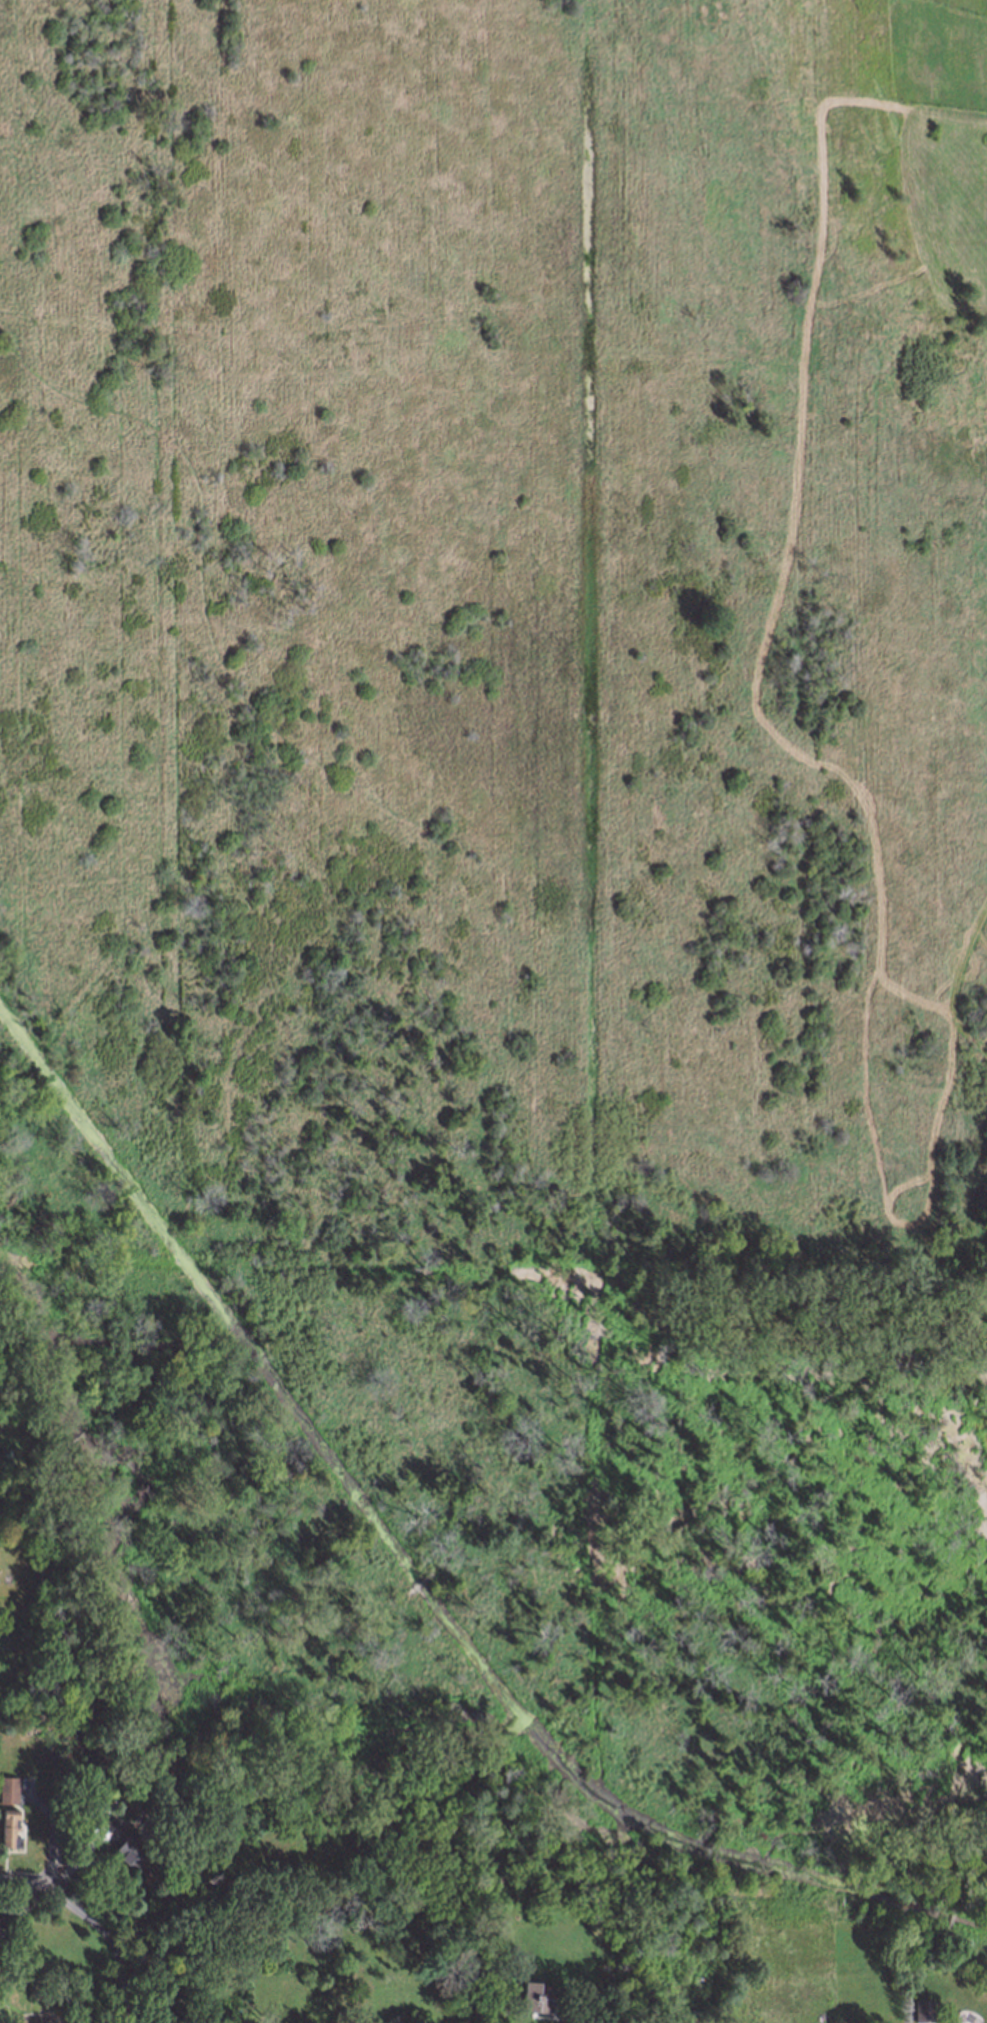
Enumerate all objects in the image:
building: (7, 1788)
building: (112, 1824)
building: (7, 1826)
building: (128, 1850)
road: (25, 1885)
road: (104, 1934)
building: (532, 1995)
building: (922, 2009)
road: (122, 2013)
building: (590, 2022)

